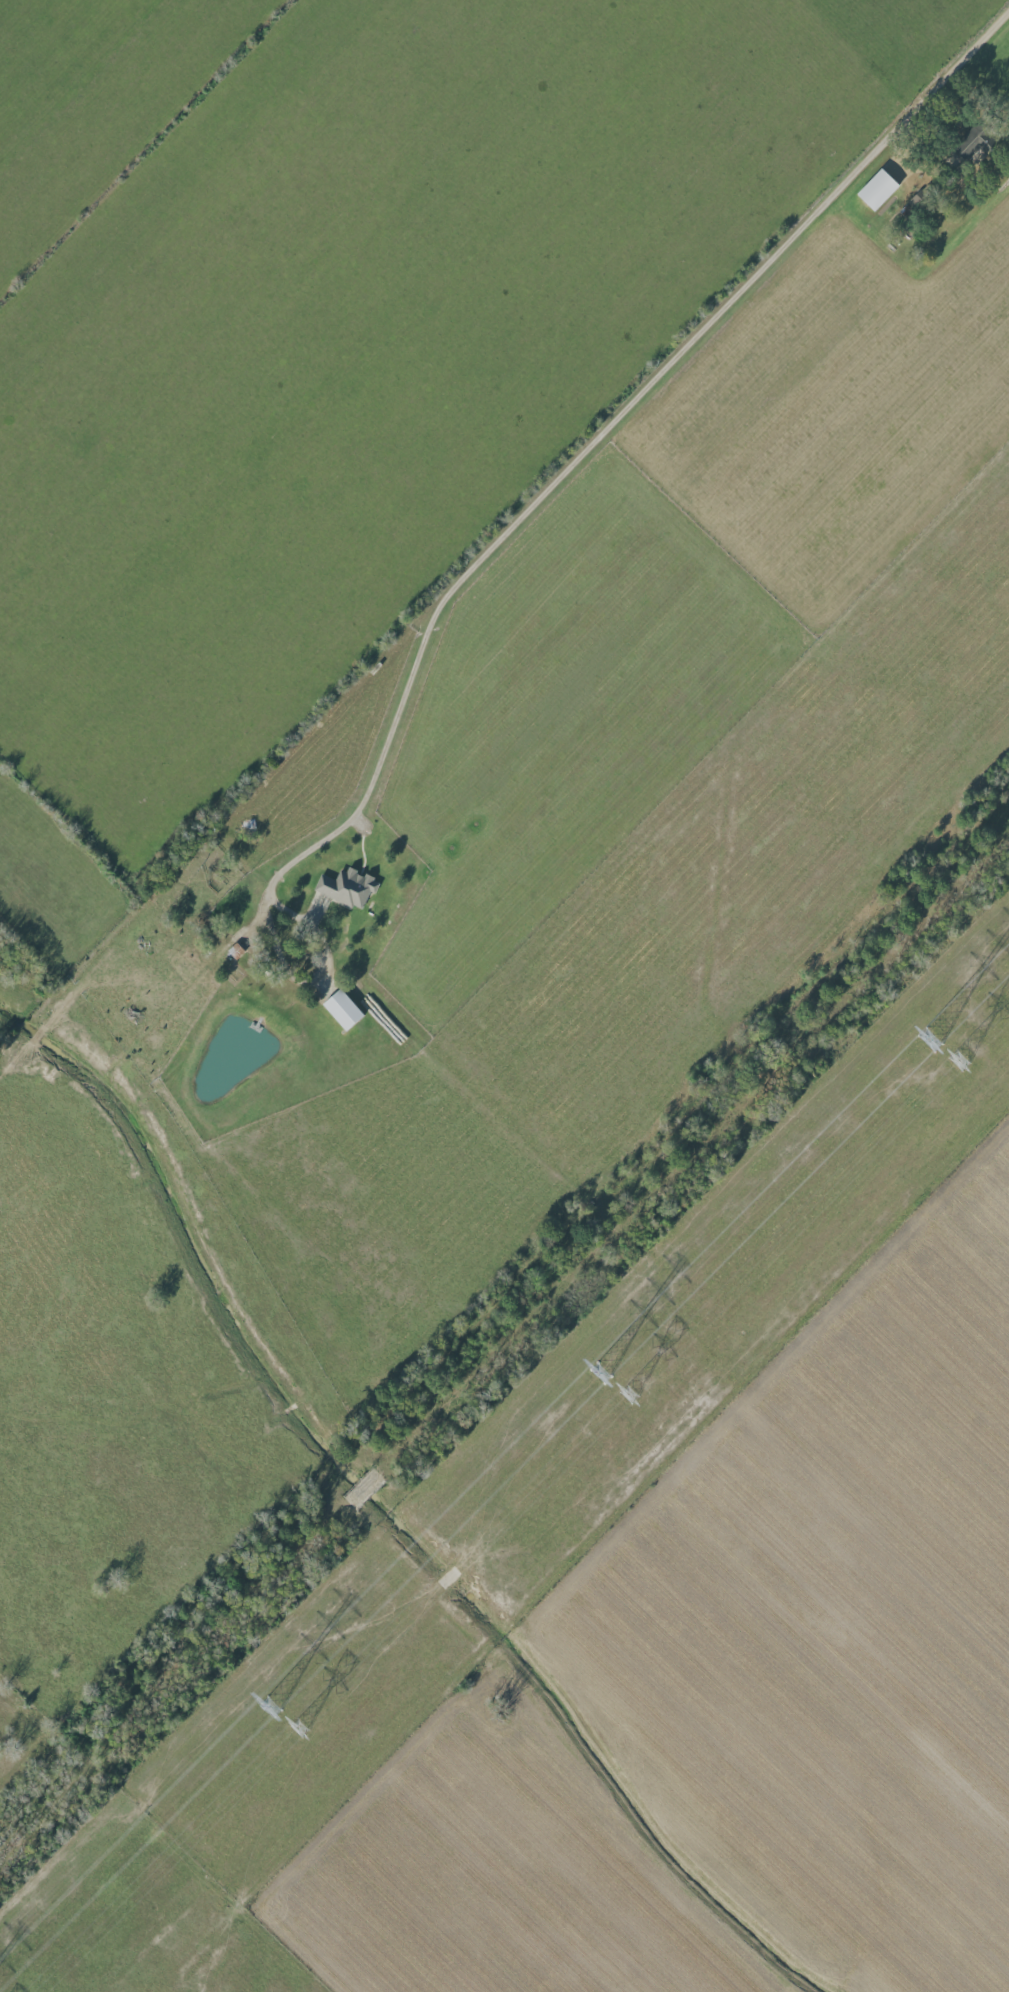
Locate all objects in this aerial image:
building: (973, 142)
building: (877, 190)
building: (914, 204)
road: (642, 387)
building: (346, 887)
building: (342, 1009)
power tower: (929, 1042)
power tower: (958, 1061)
railway: (498, 1339)
power tower: (600, 1374)
power tower: (628, 1395)
power tower: (269, 1707)
power tower: (299, 1728)

